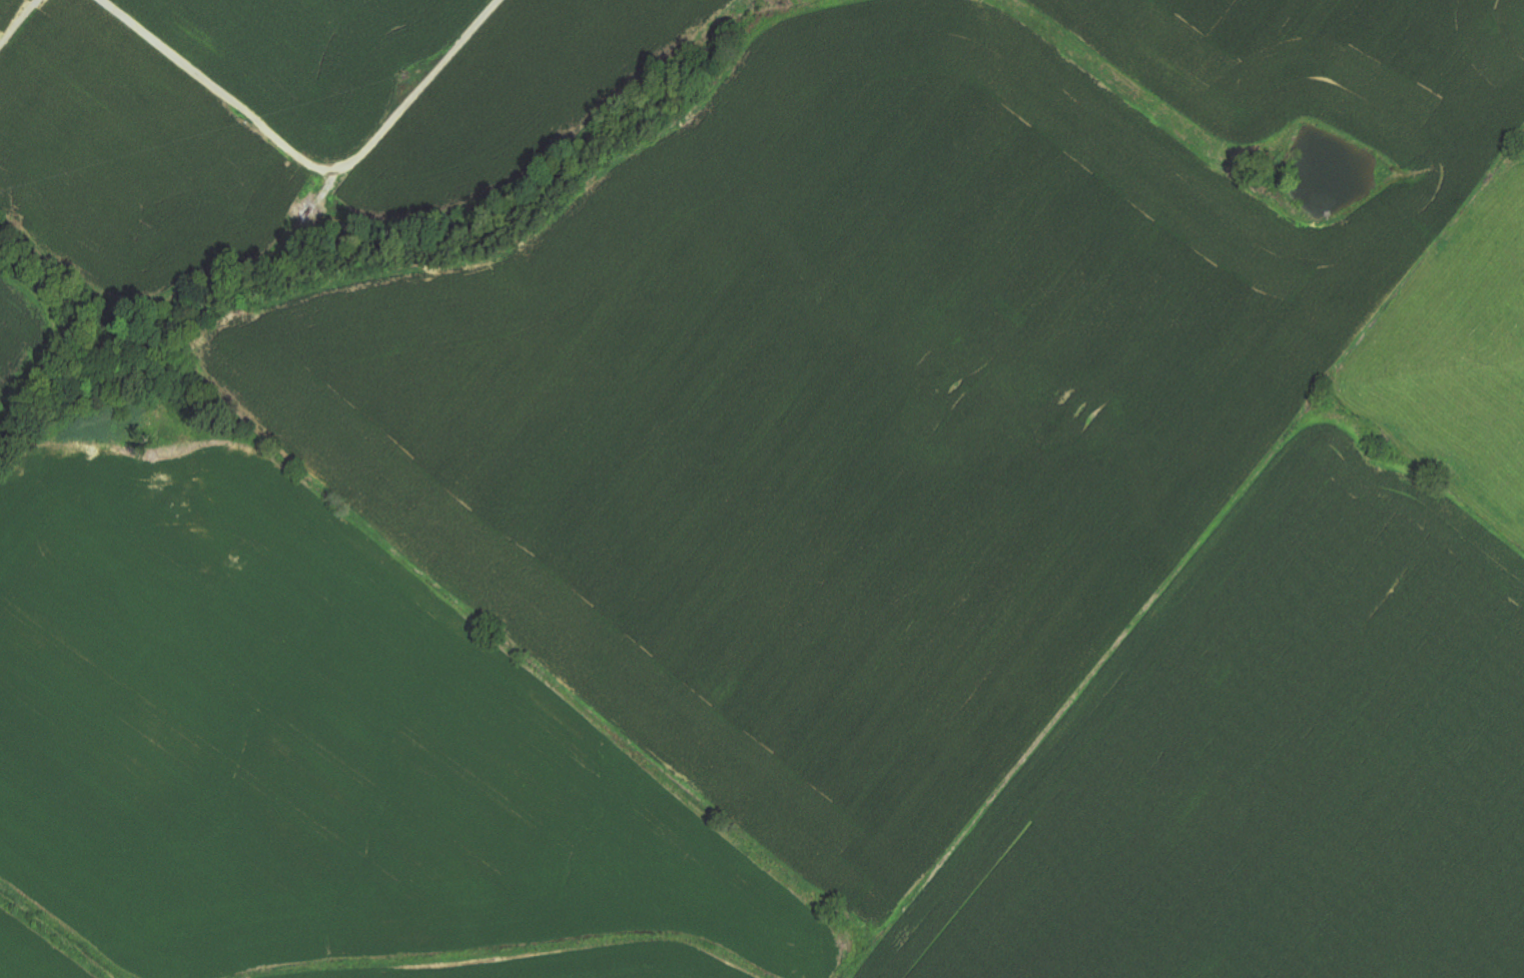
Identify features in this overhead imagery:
road: (18, 22)
road: (310, 162)

